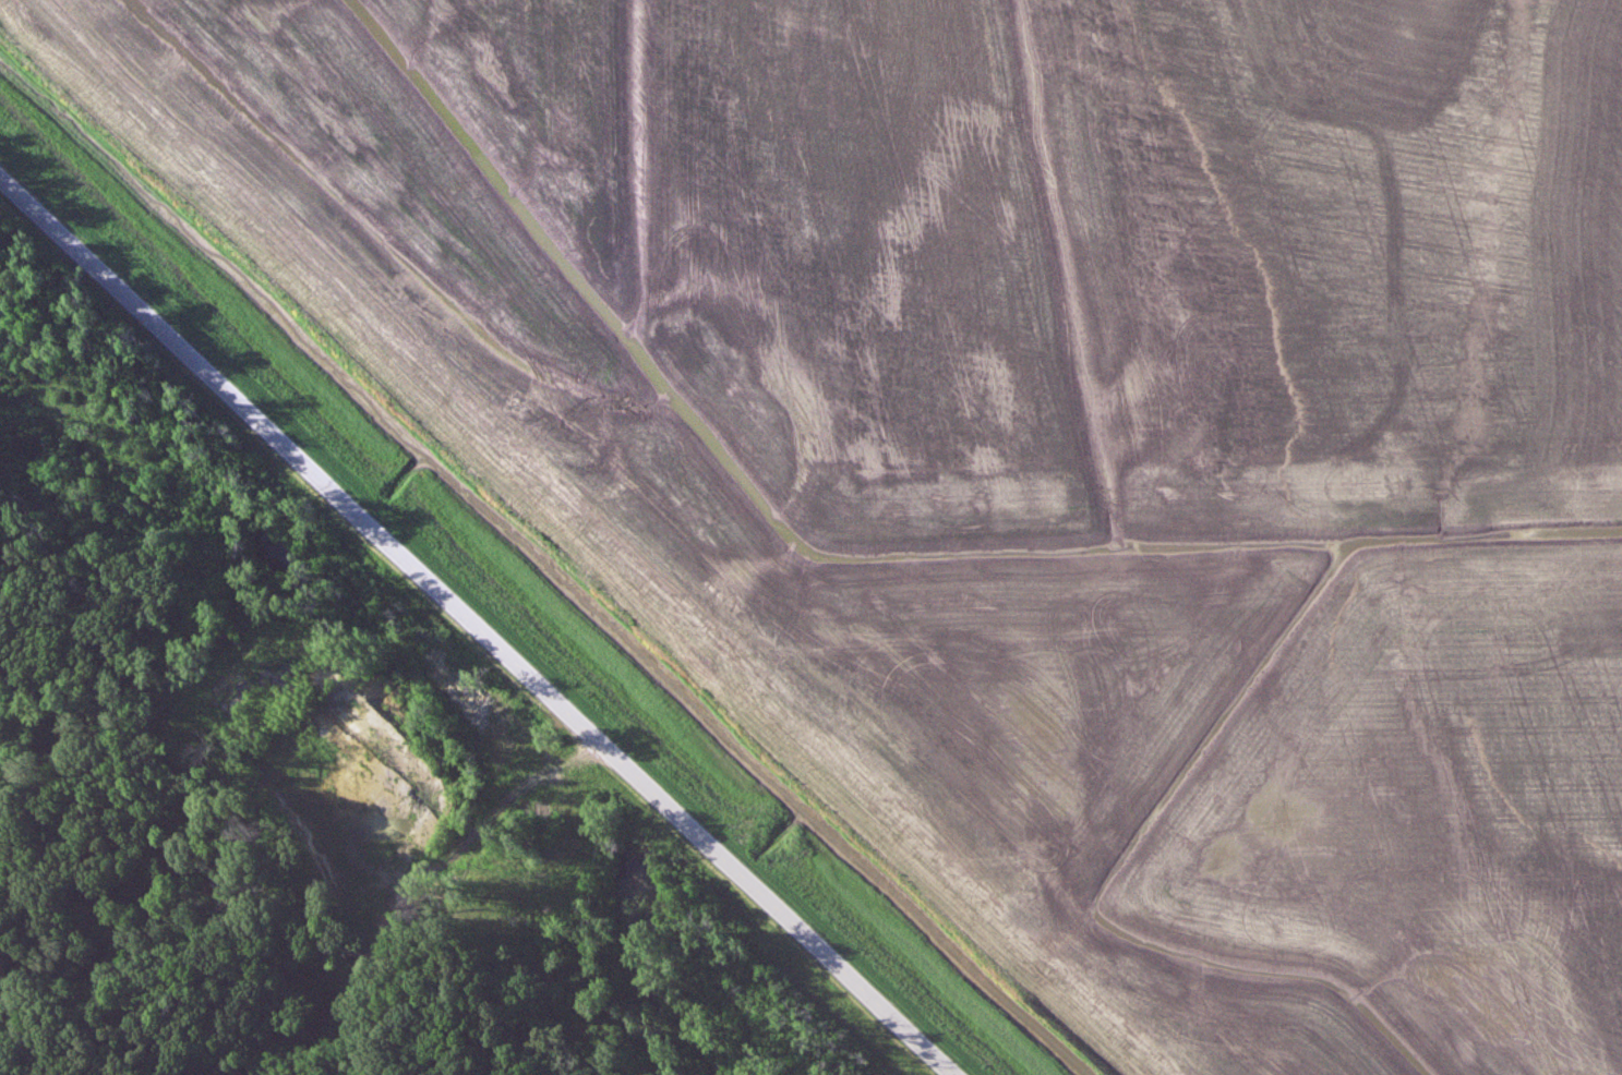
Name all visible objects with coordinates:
road: (479, 627)

